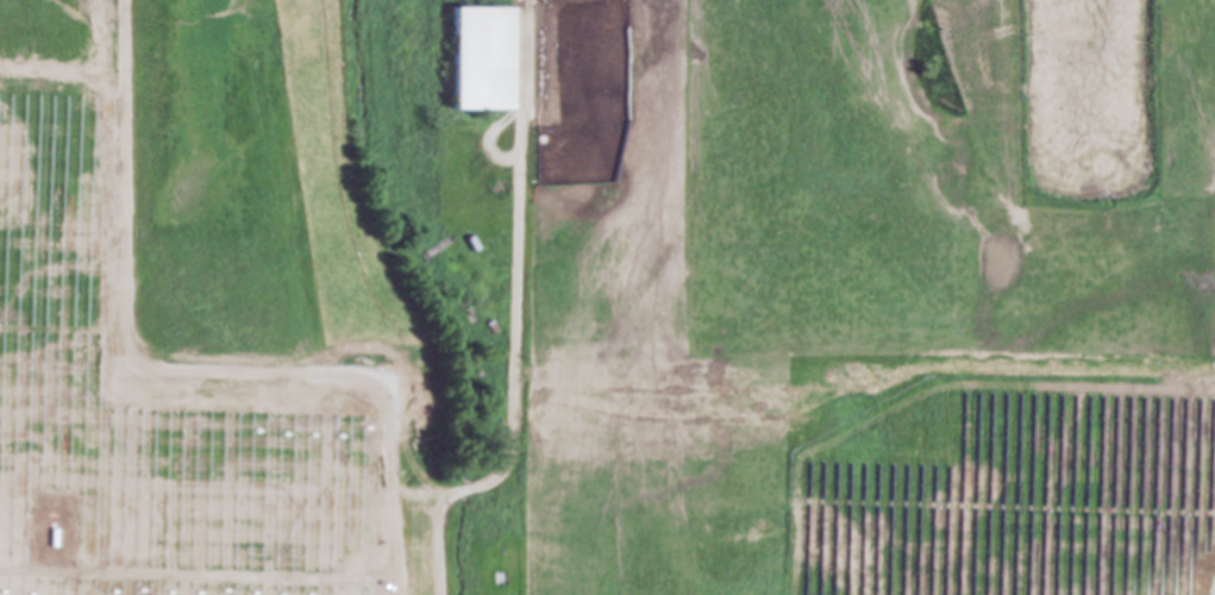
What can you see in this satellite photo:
building: (470, 61)
solar farm: (519, 430)

